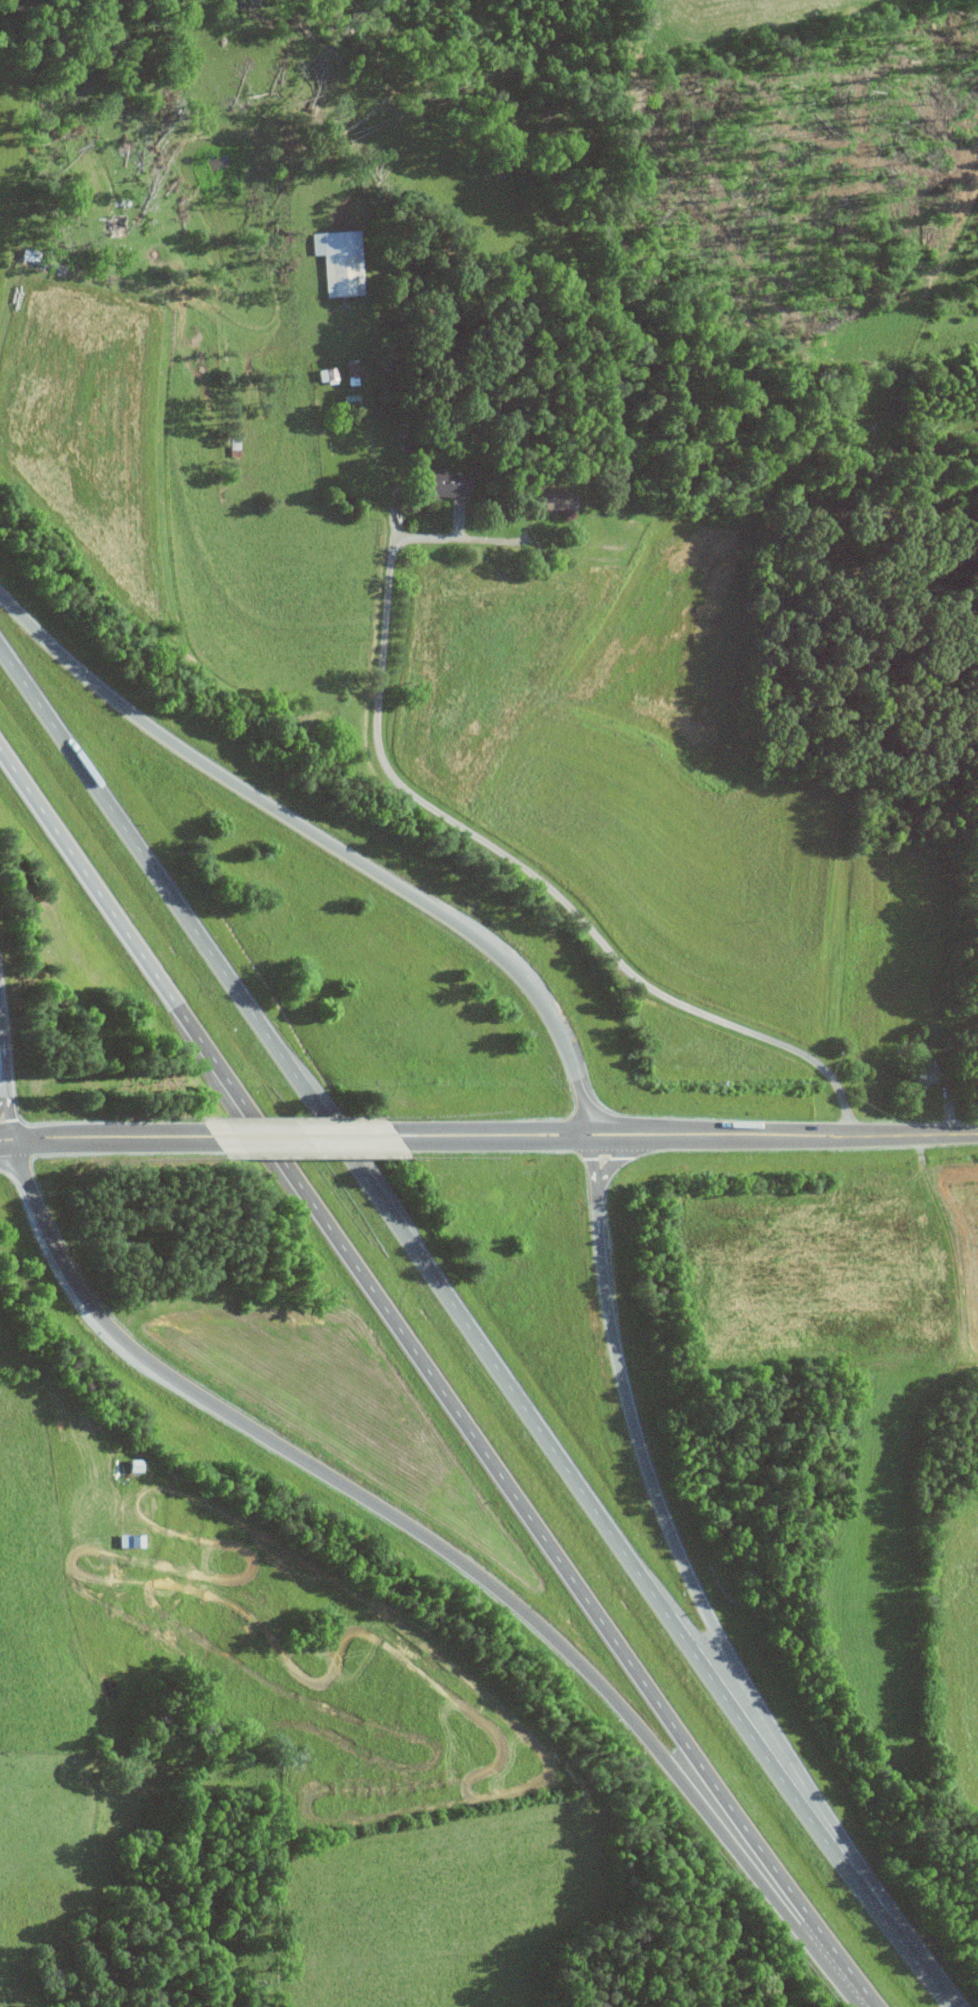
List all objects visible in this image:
building: (338, 260)
building: (324, 373)
building: (348, 399)
building: (444, 483)
building: (554, 498)
road: (396, 529)
road: (488, 538)
road: (506, 853)
building: (926, 1072)
road: (578, 1080)
road: (951, 1113)
road: (695, 1137)
road: (112, 1139)
road: (319, 1141)
road: (480, 1315)
road: (437, 1385)
road: (333, 1480)
building: (126, 1540)

